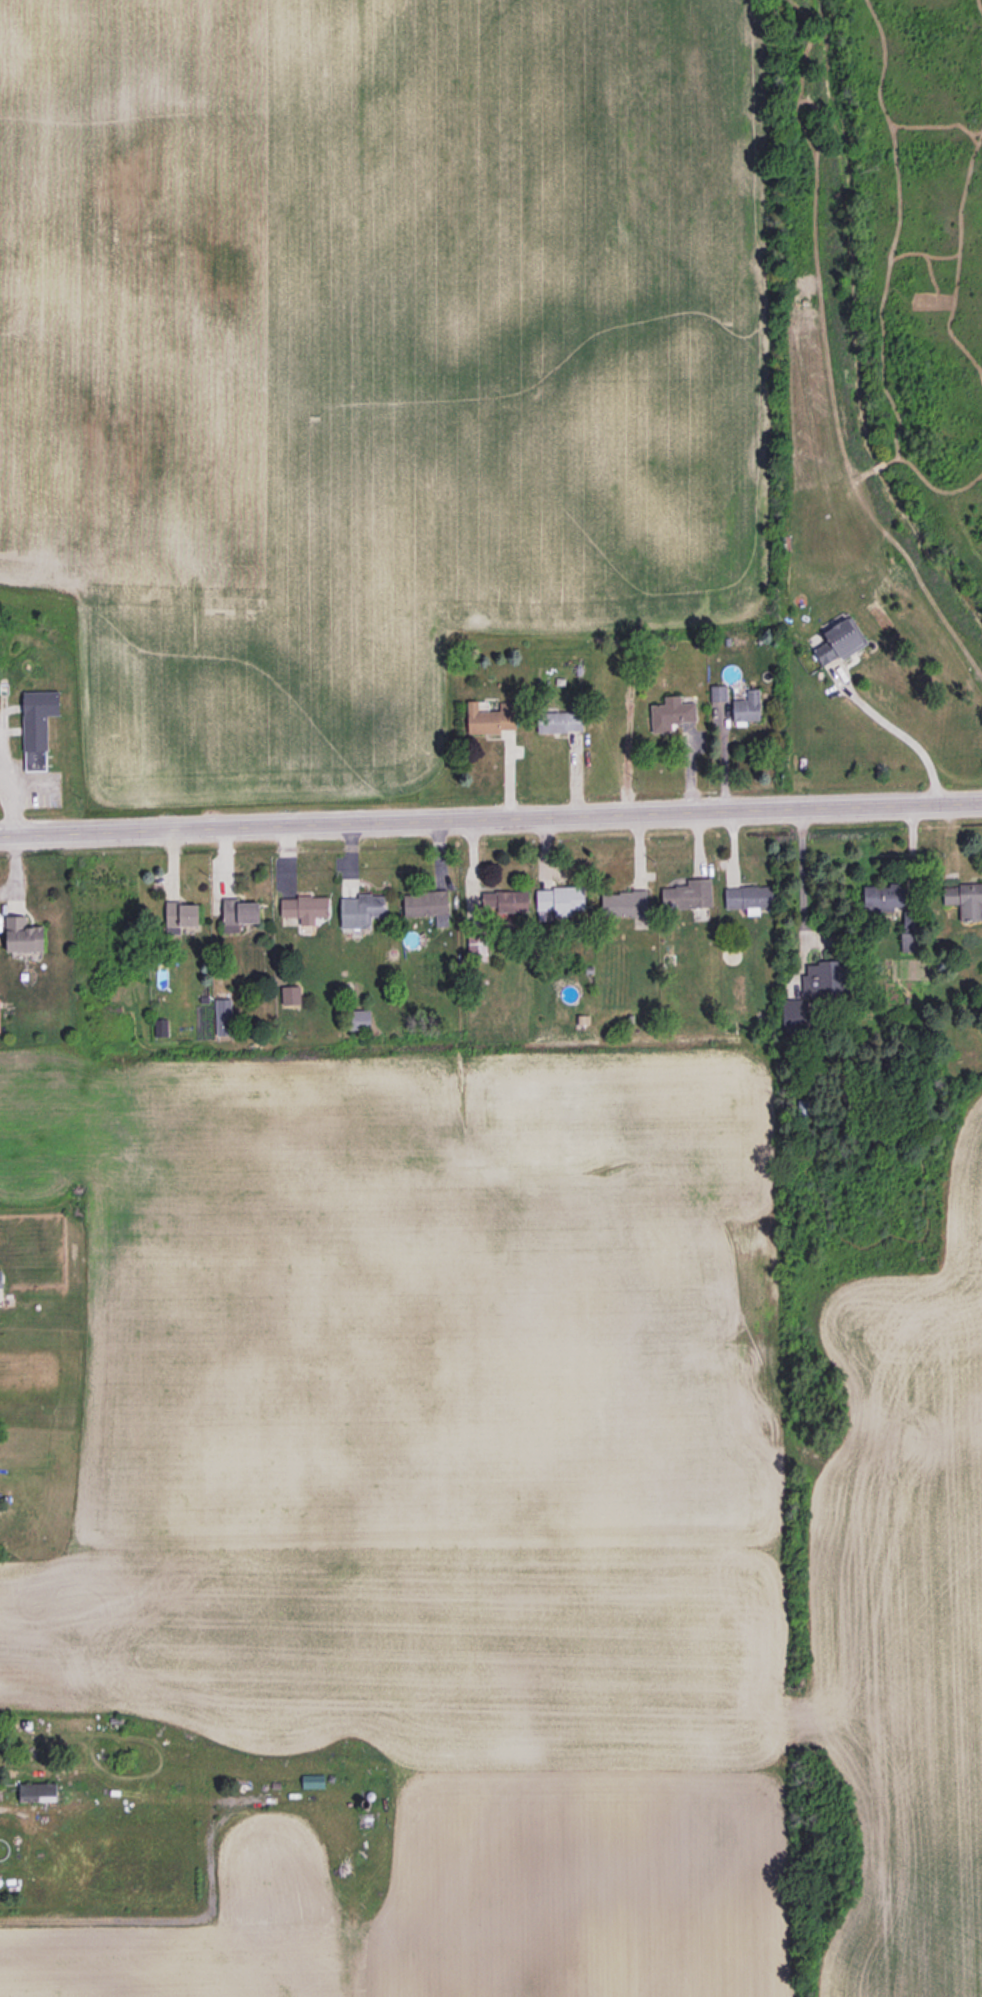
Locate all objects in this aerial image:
building: (839, 639)
building: (718, 692)
building: (747, 706)
building: (671, 713)
building: (491, 718)
building: (560, 721)
building: (37, 727)
road: (899, 733)
road: (11, 804)
road: (490, 815)
road: (803, 880)
building: (688, 894)
building: (748, 897)
building: (560, 899)
building: (965, 899)
building: (506, 900)
building: (888, 900)
building: (426, 903)
building: (624, 903)
building: (305, 907)
building: (361, 910)
building: (239, 913)
building: (180, 916)
building: (507, 919)
building: (23, 935)
building: (908, 941)
building: (477, 947)
building: (815, 990)
building: (359, 1019)
building: (0, 1278)
road: (166, 1919)

